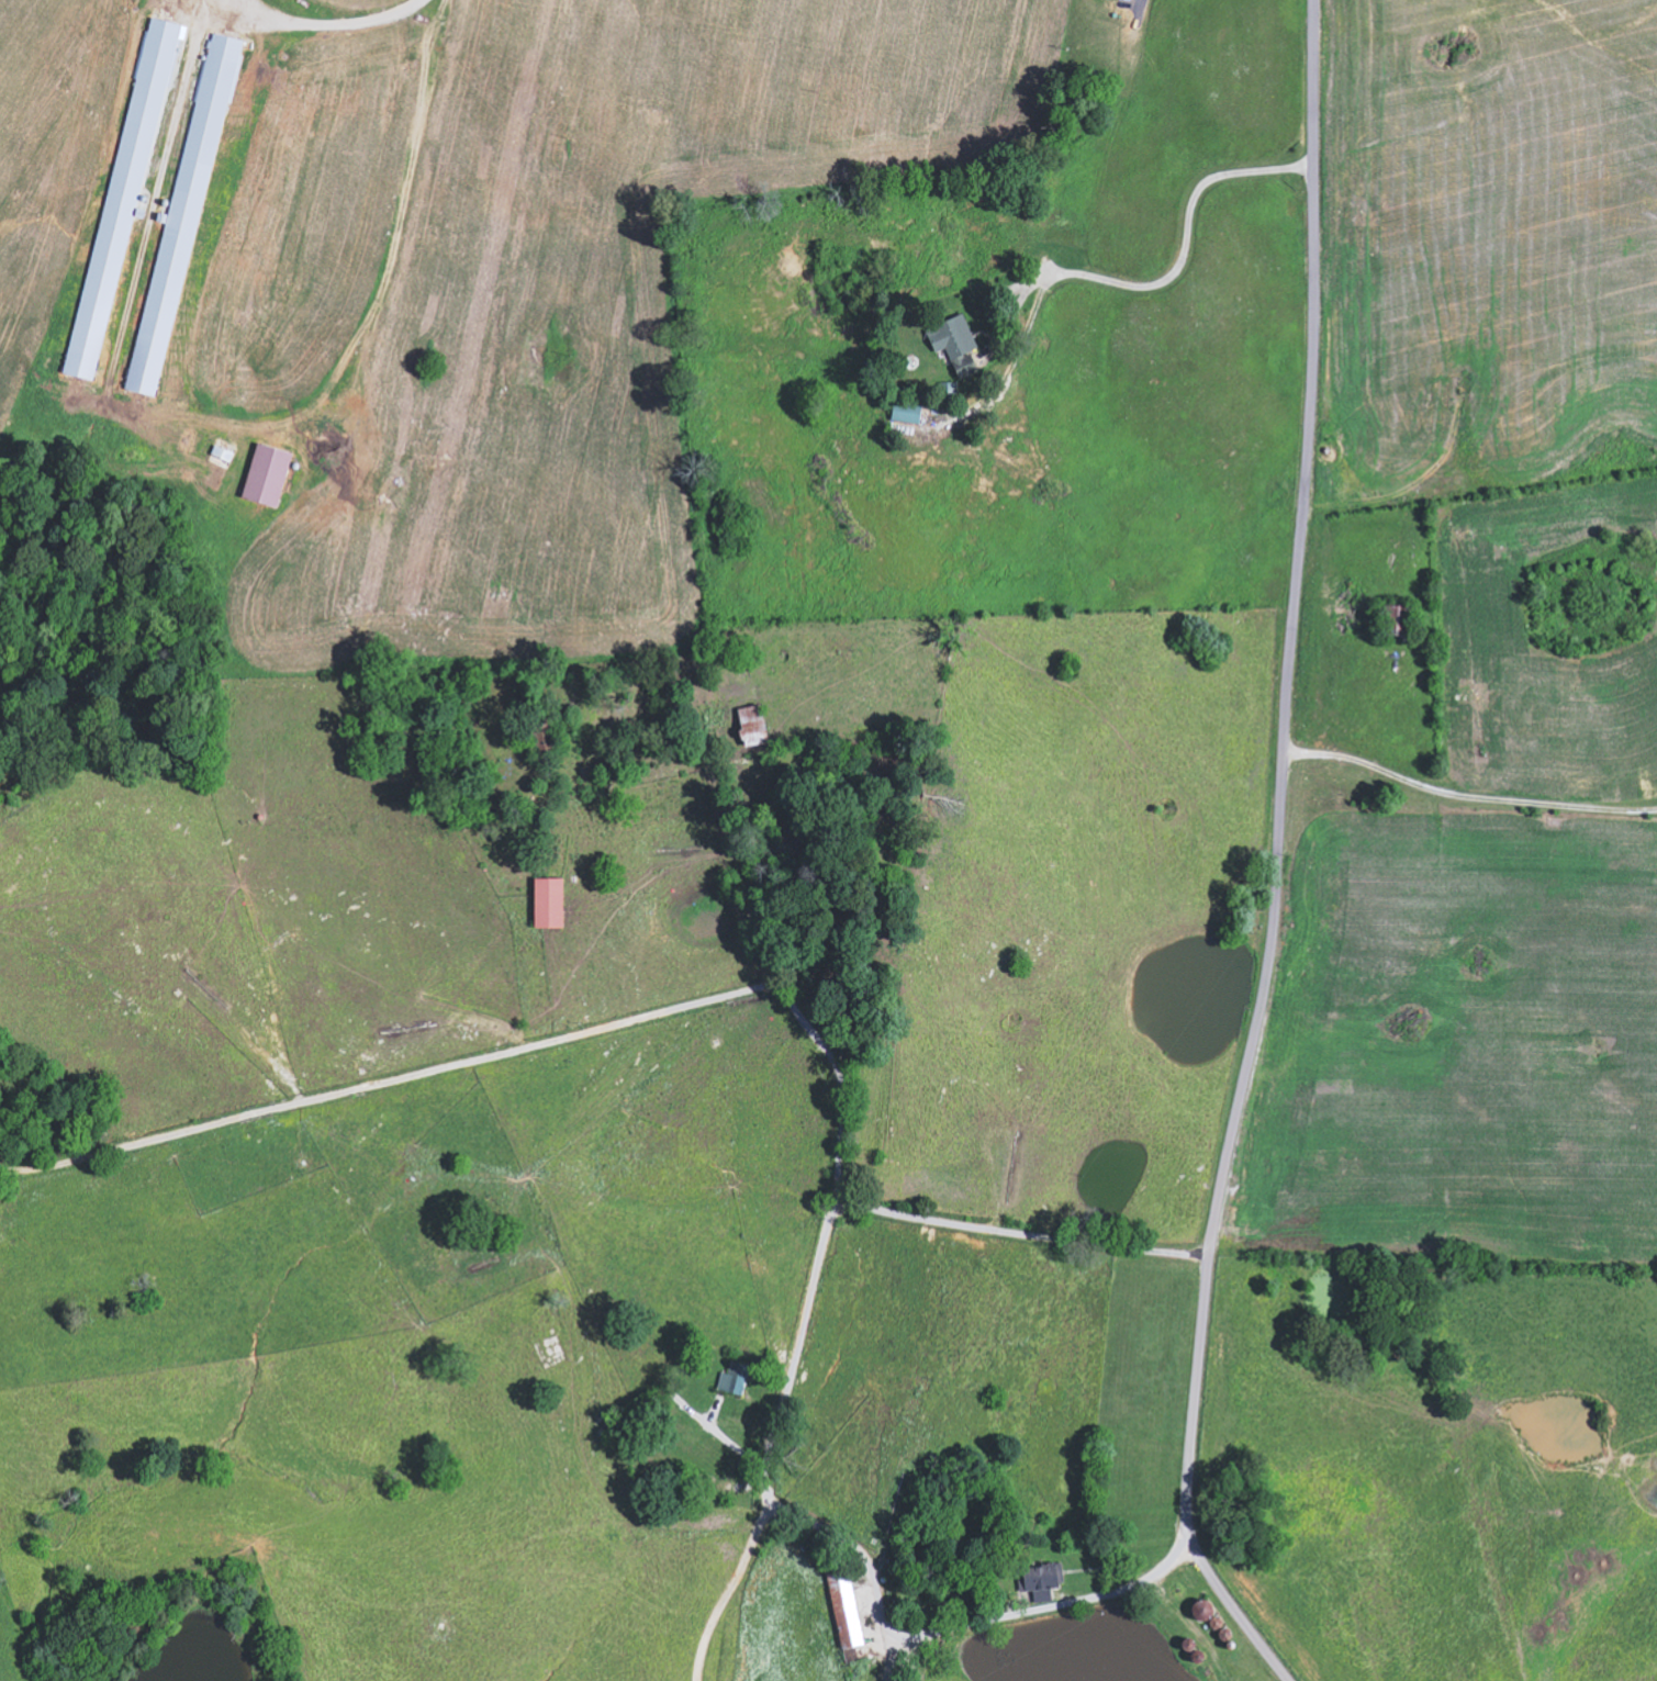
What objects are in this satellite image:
road: (322, 24)
building: (124, 194)
building: (182, 223)
road: (1119, 281)
road: (1021, 300)
building: (956, 343)
building: (908, 412)
building: (223, 452)
building: (269, 474)
building: (1401, 620)
building: (754, 725)
road: (1466, 795)
road: (1275, 862)
building: (550, 903)
road: (1163, 1252)
road: (800, 1330)
building: (735, 1379)
building: (1044, 1581)
road: (1062, 1604)
building: (847, 1610)

